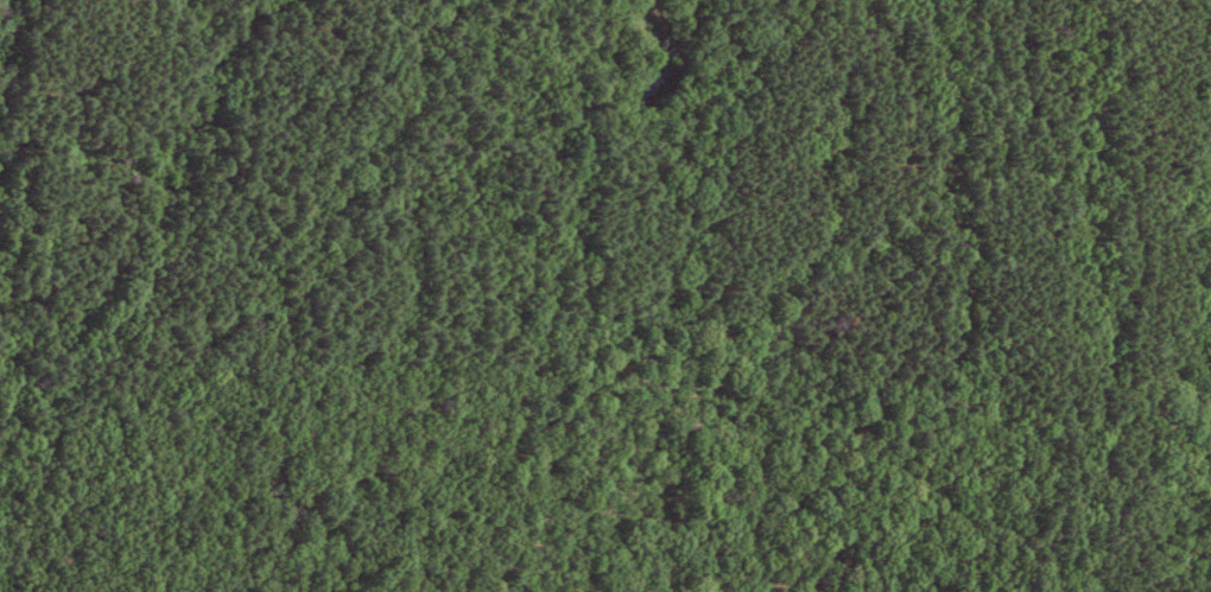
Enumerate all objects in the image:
road: (1168, 4)

